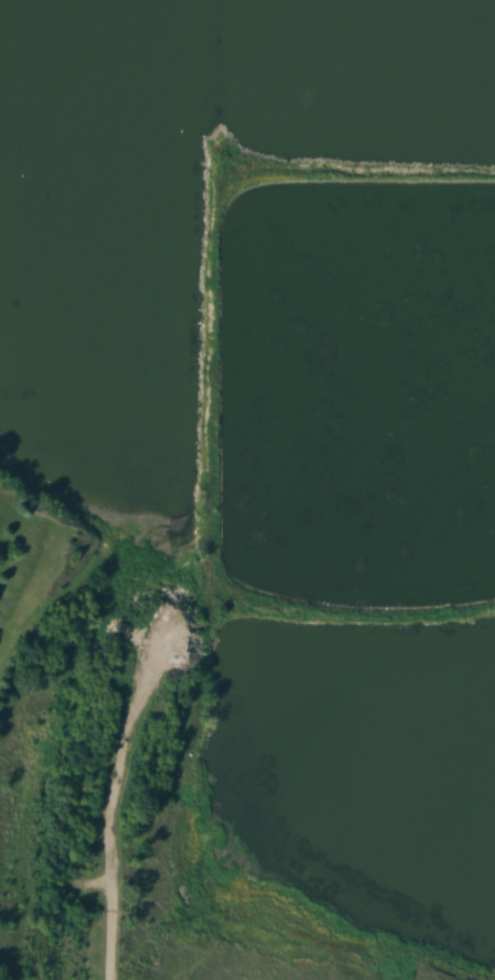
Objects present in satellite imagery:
road: (121, 822)

